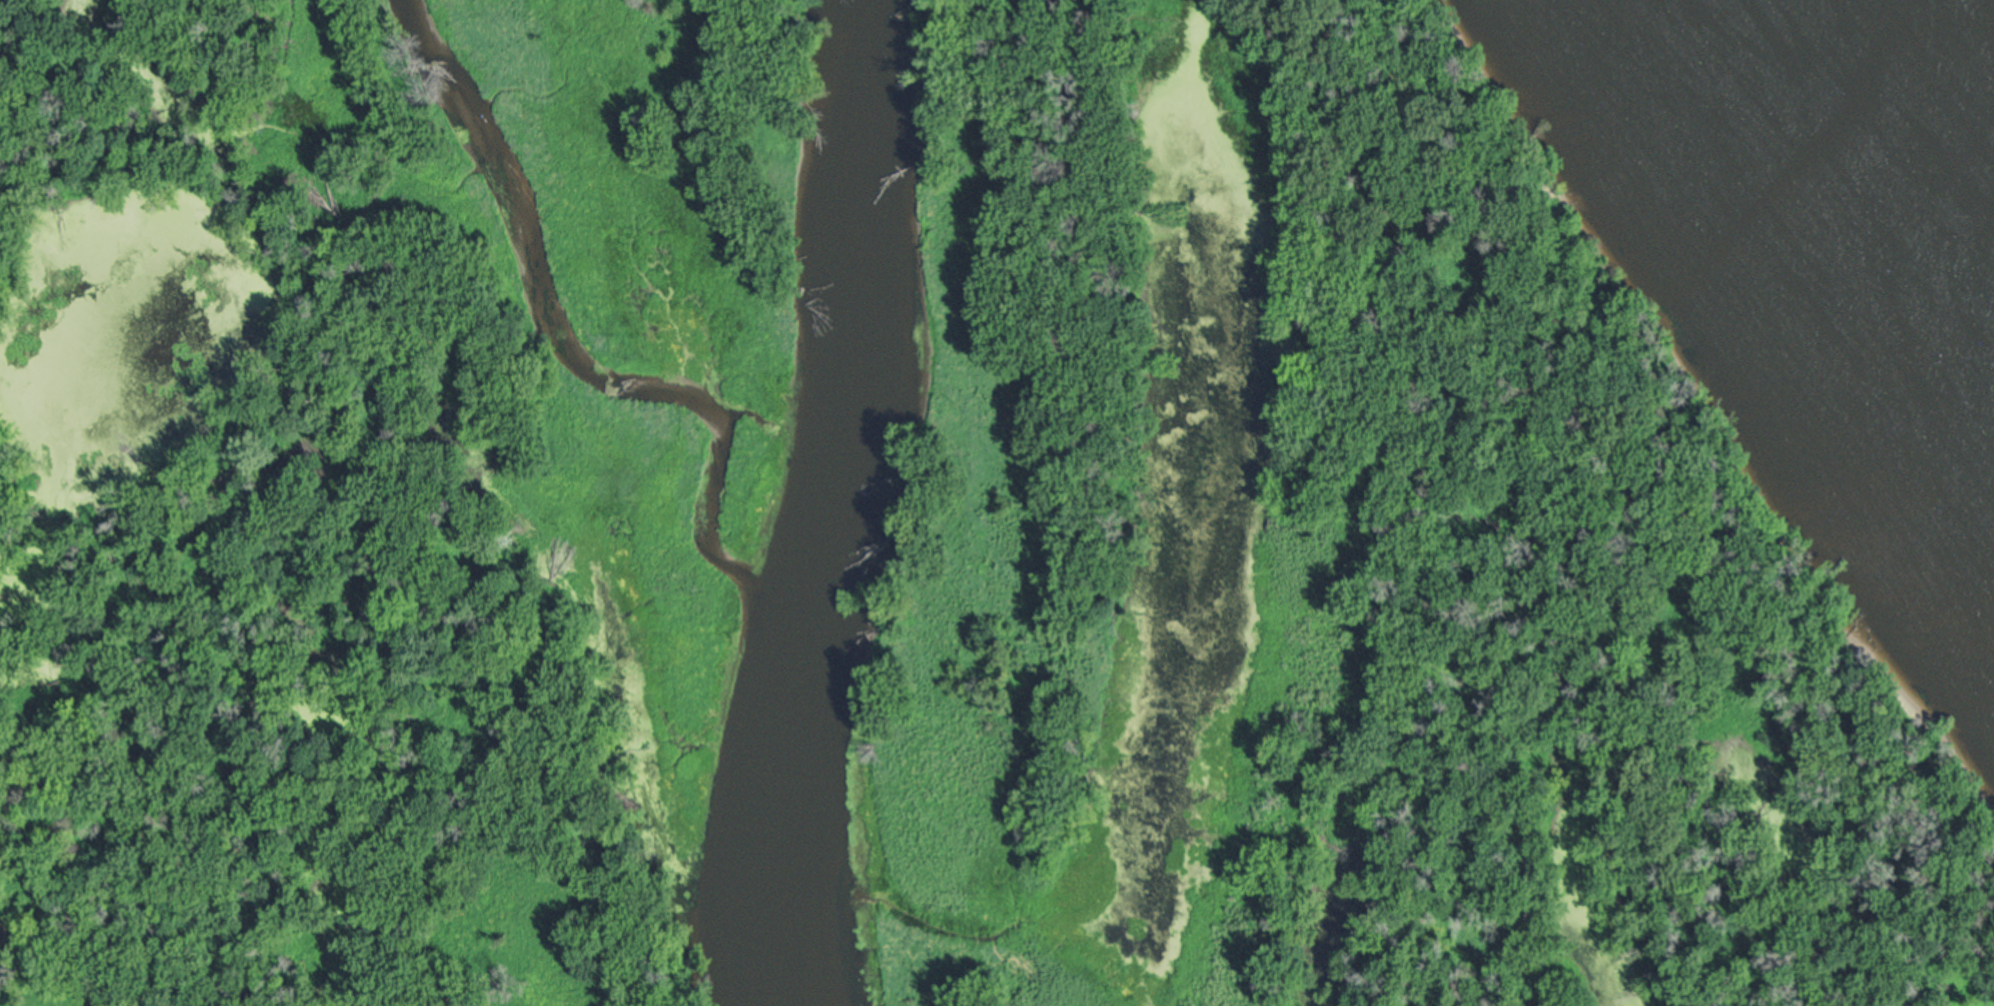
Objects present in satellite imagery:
river: (1950, 60)

